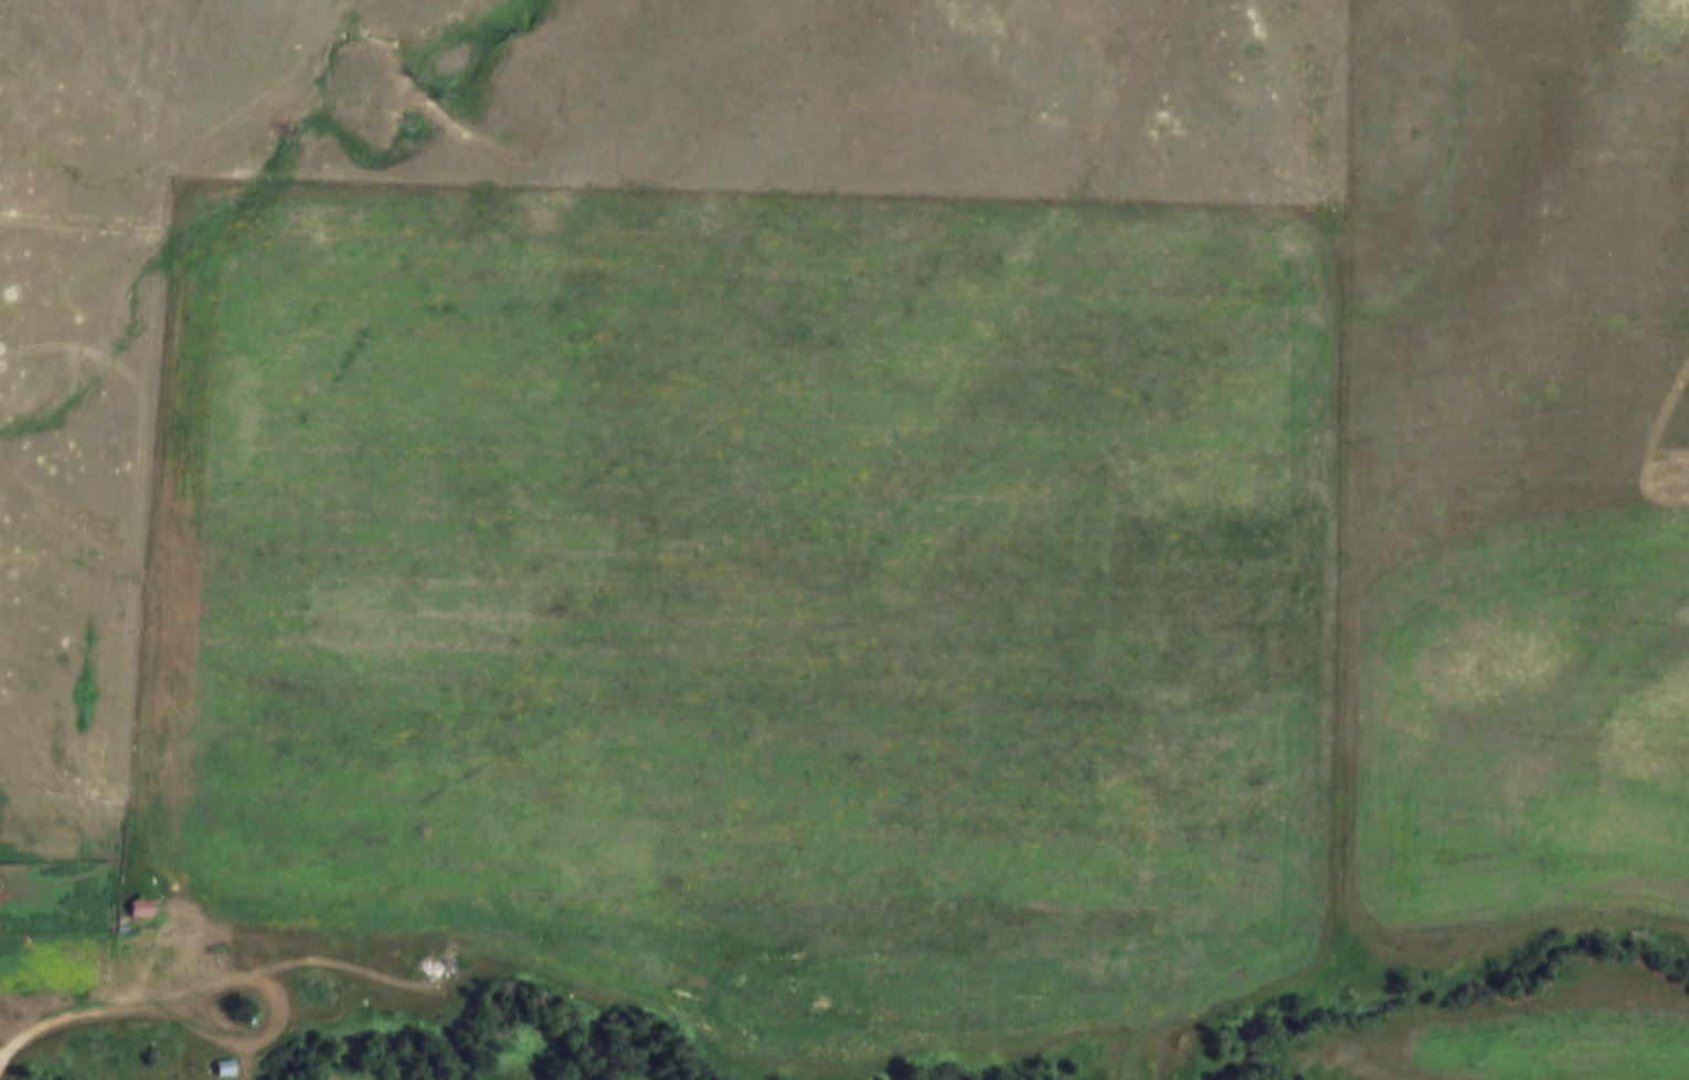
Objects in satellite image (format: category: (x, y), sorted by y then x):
building: (316, 993)
road: (322, 1013)
road: (89, 1018)

